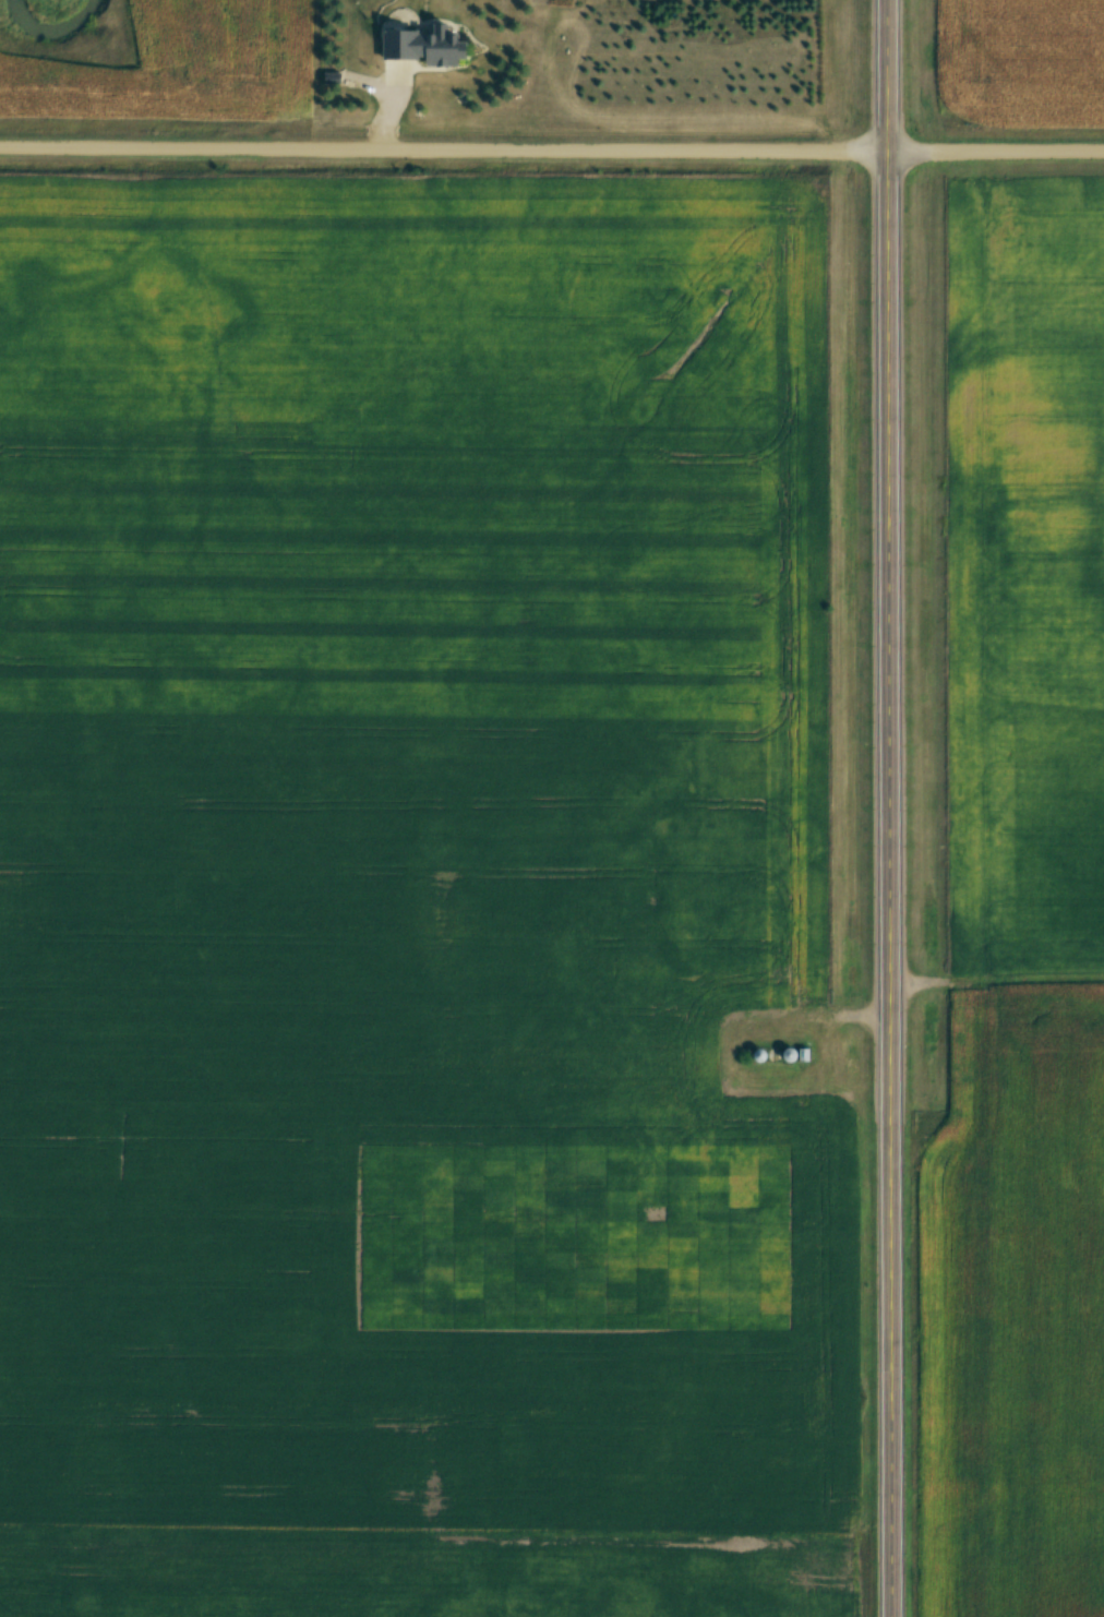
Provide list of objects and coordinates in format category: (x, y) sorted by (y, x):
road: (551, 152)
road: (898, 807)
building: (763, 1056)
building: (796, 1056)

